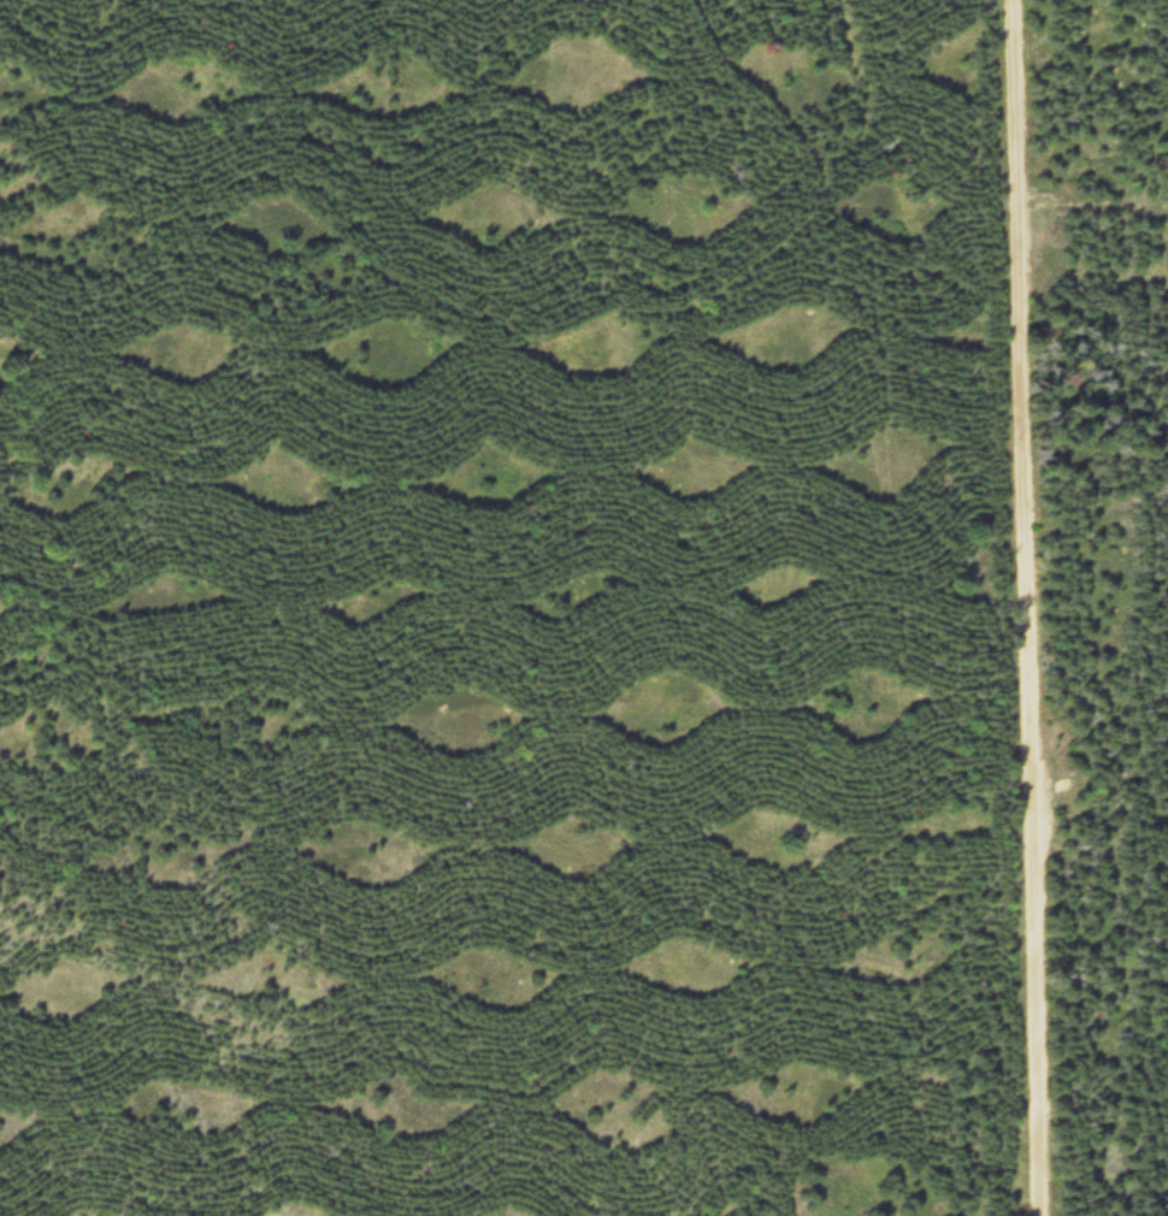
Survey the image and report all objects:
road: (1033, 607)
park: (892, 1183)

